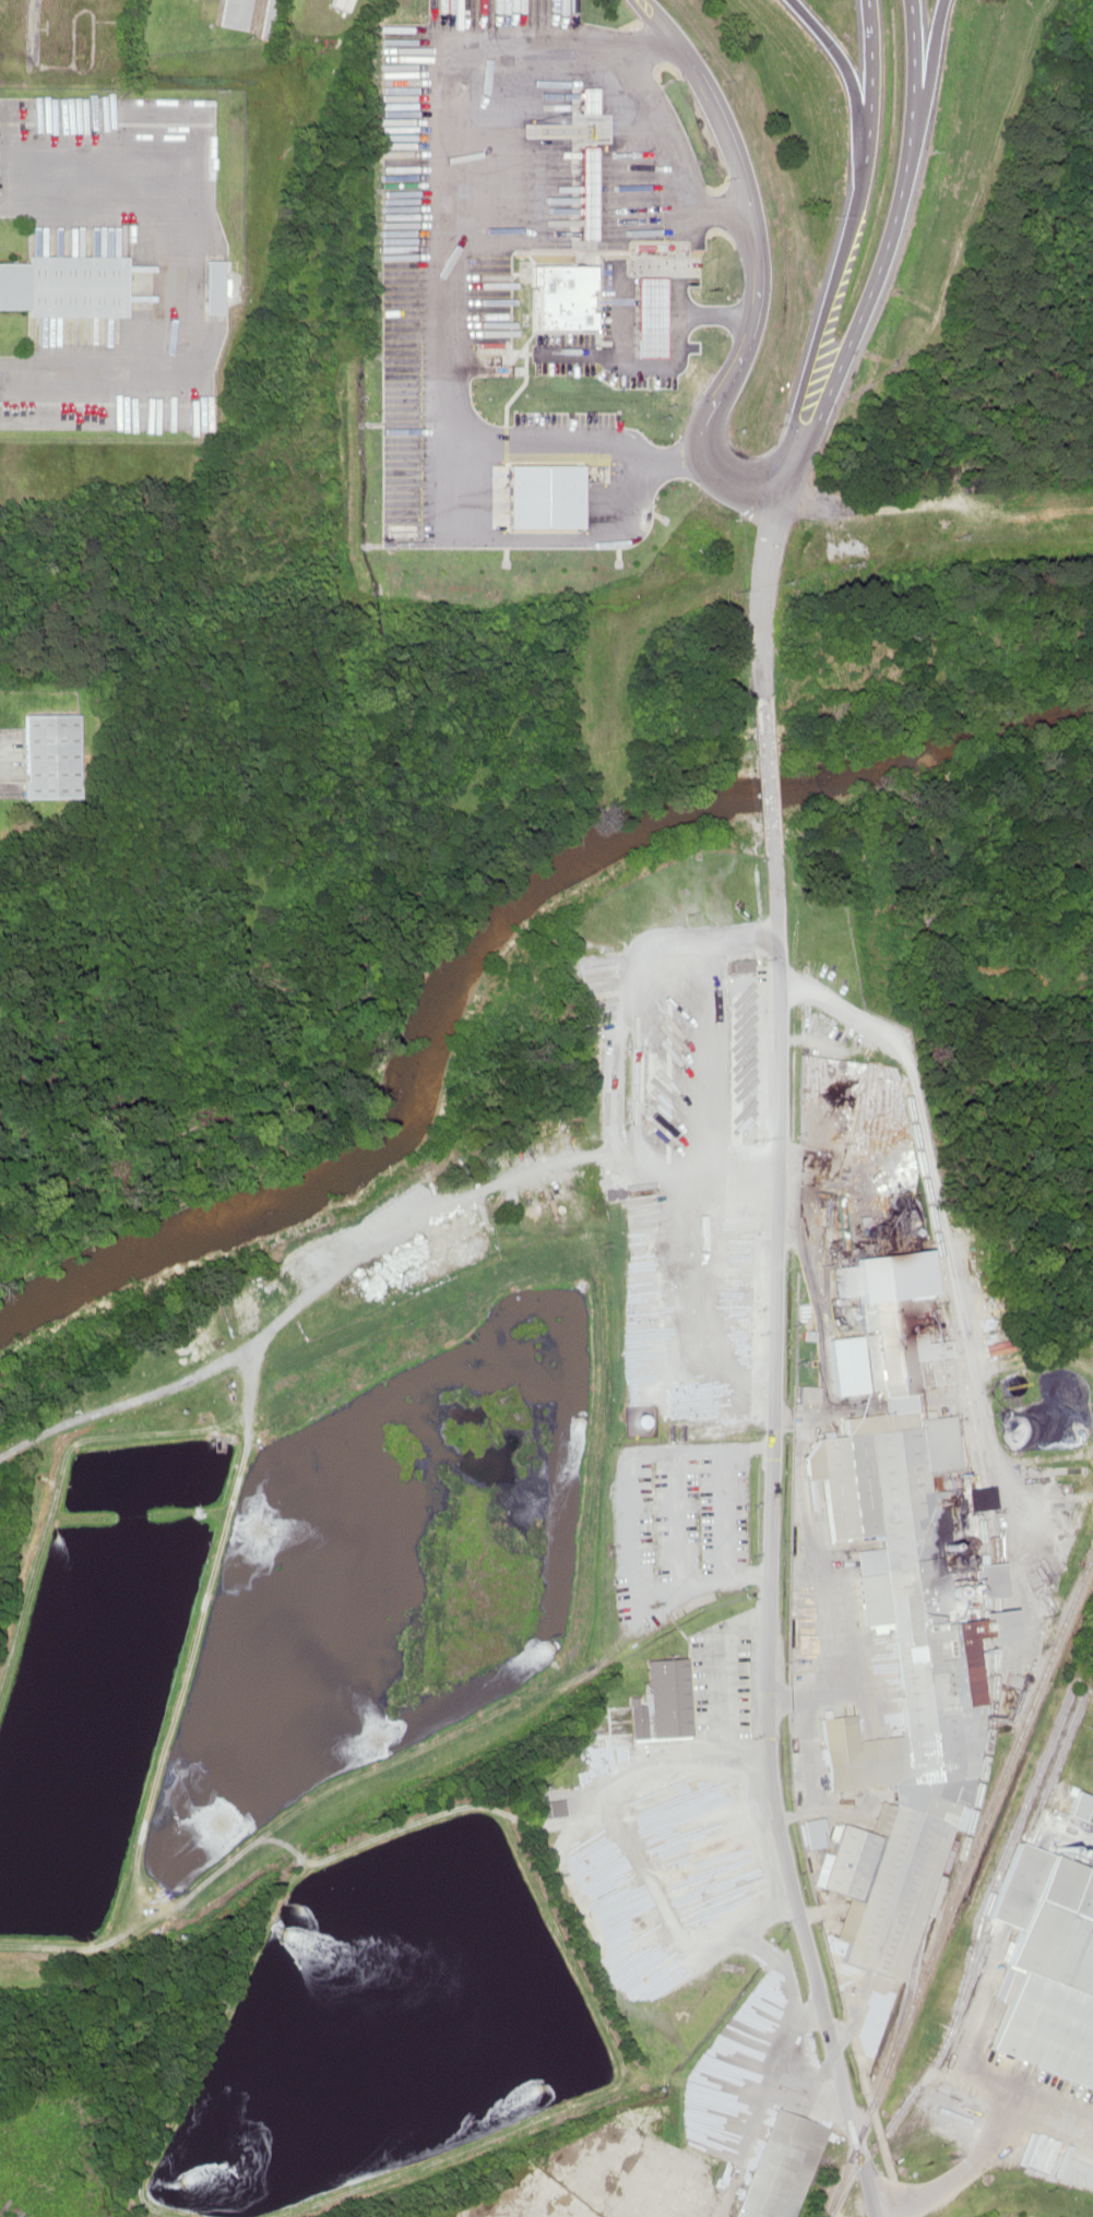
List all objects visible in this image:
building: (340, 4)
building: (235, 13)
building: (268, 17)
road: (645, 41)
road: (840, 60)
road: (910, 61)
road: (925, 61)
road: (867, 99)
road: (451, 121)
road: (674, 151)
road: (740, 184)
building: (582, 193)
gas station: (582, 193)
road: (568, 208)
road: (891, 215)
road: (646, 264)
building: (209, 285)
building: (63, 286)
building: (562, 296)
gas station: (646, 305)
building: (645, 315)
road: (812, 344)
road: (604, 351)
road: (696, 371)
road: (823, 400)
road: (702, 422)
road: (739, 480)
road: (764, 592)
building: (48, 755)
road: (768, 774)
building: (915, 1278)
building: (877, 1319)
building: (805, 1394)
railway: (962, 1395)
road: (771, 1541)
building: (986, 1577)
building: (895, 1692)
building: (668, 1696)
railway: (1023, 1801)
building: (1078, 1805)
building: (547, 1808)
railway: (971, 1812)
building: (809, 1832)
railway: (1021, 1851)
railway: (962, 1882)
railway: (917, 1938)
railway: (966, 1966)
building: (1044, 1966)
railway: (895, 2117)
building: (770, 2165)

